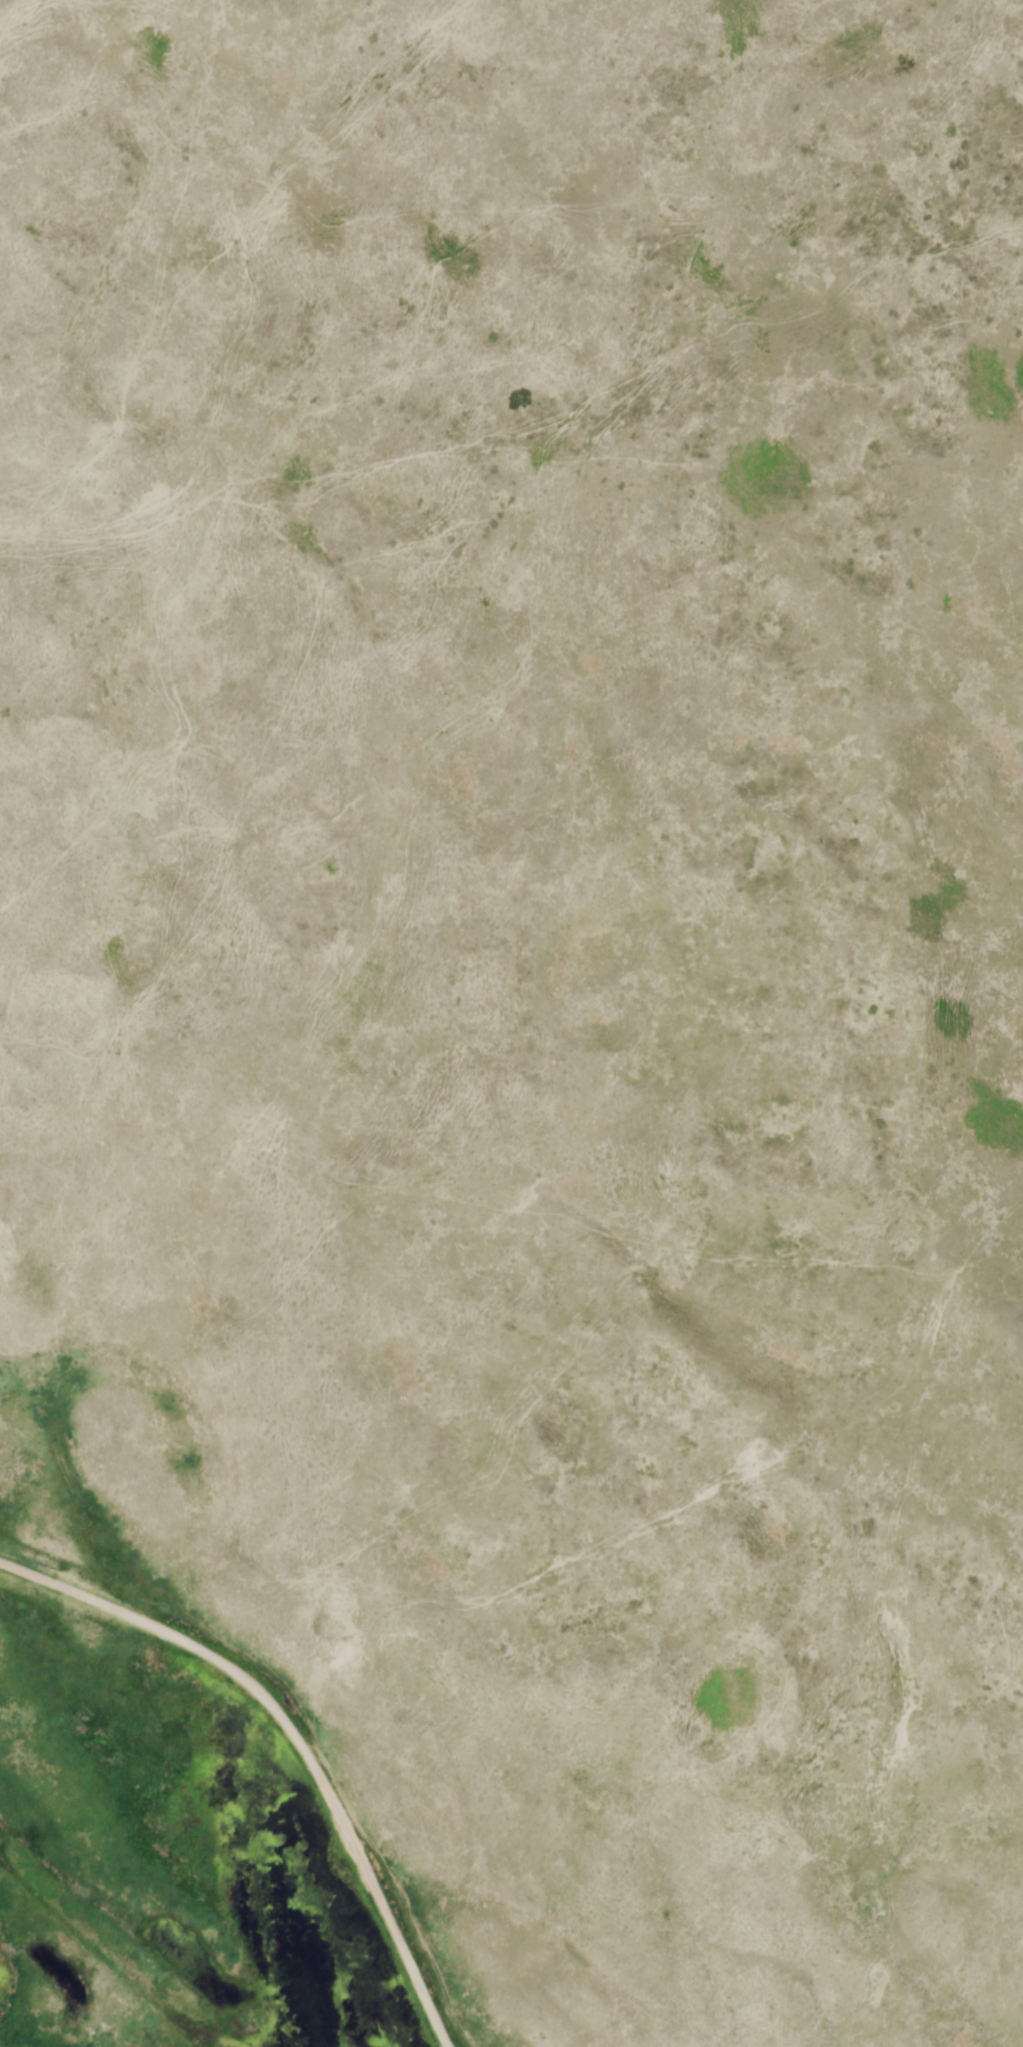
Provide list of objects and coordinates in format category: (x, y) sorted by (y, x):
road: (295, 1732)

